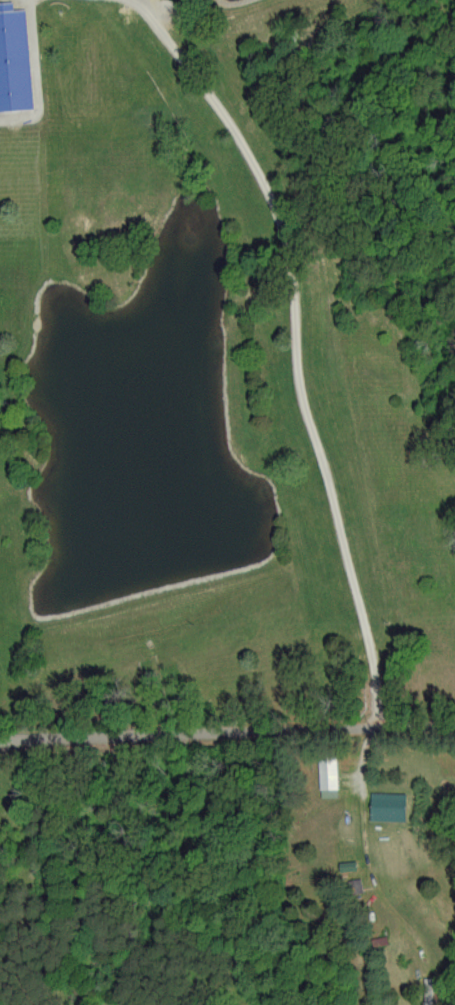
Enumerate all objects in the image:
building: (14, 58)
road: (227, 731)
building: (329, 777)
building: (389, 806)

